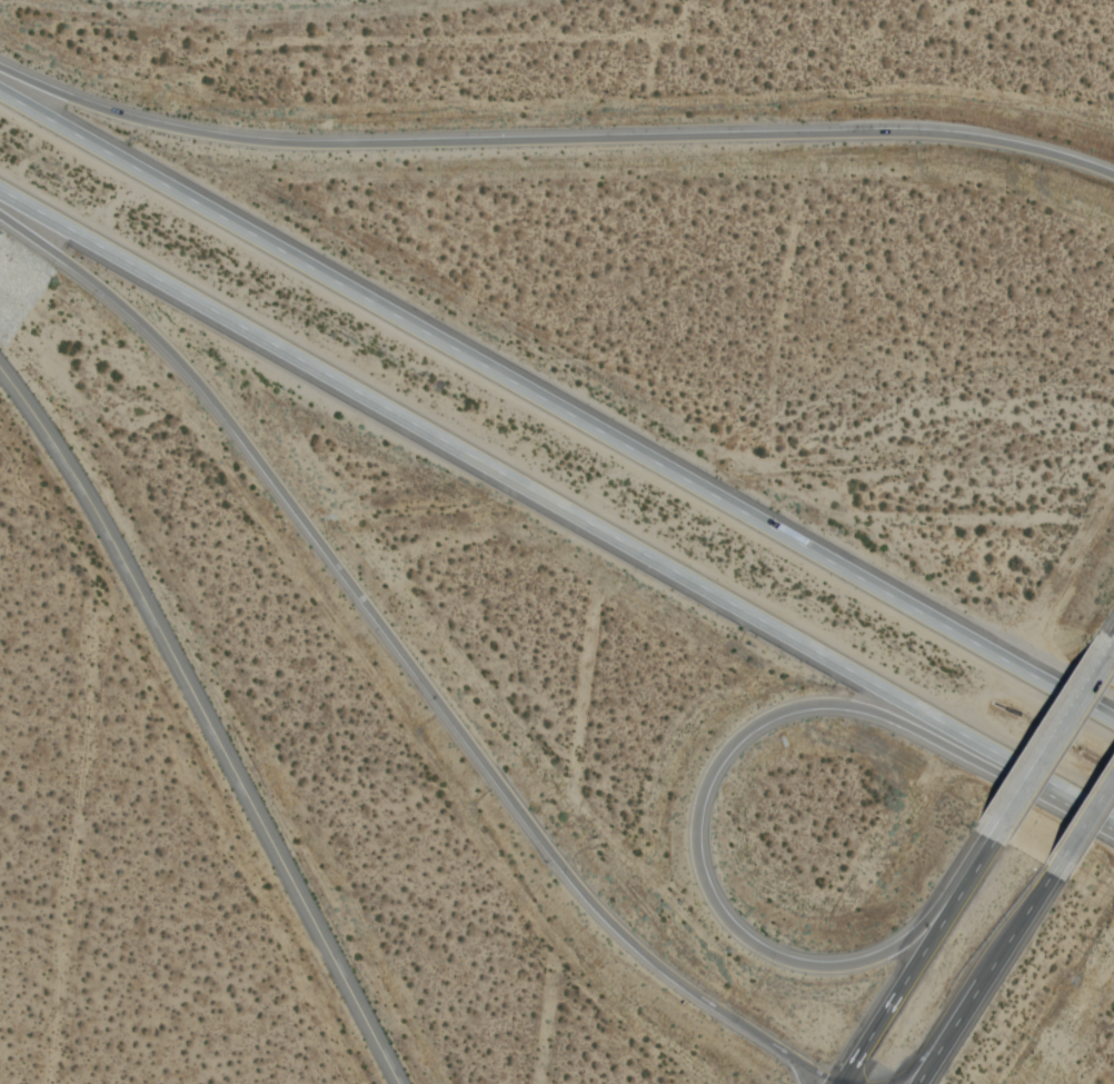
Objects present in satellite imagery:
road: (554, 140)
road: (557, 404)
road: (557, 495)
road: (405, 657)
road: (208, 720)
road: (1050, 739)
road: (714, 779)
road: (1080, 819)
road: (77, 826)
road: (908, 962)
road: (977, 978)
road: (929, 1043)

